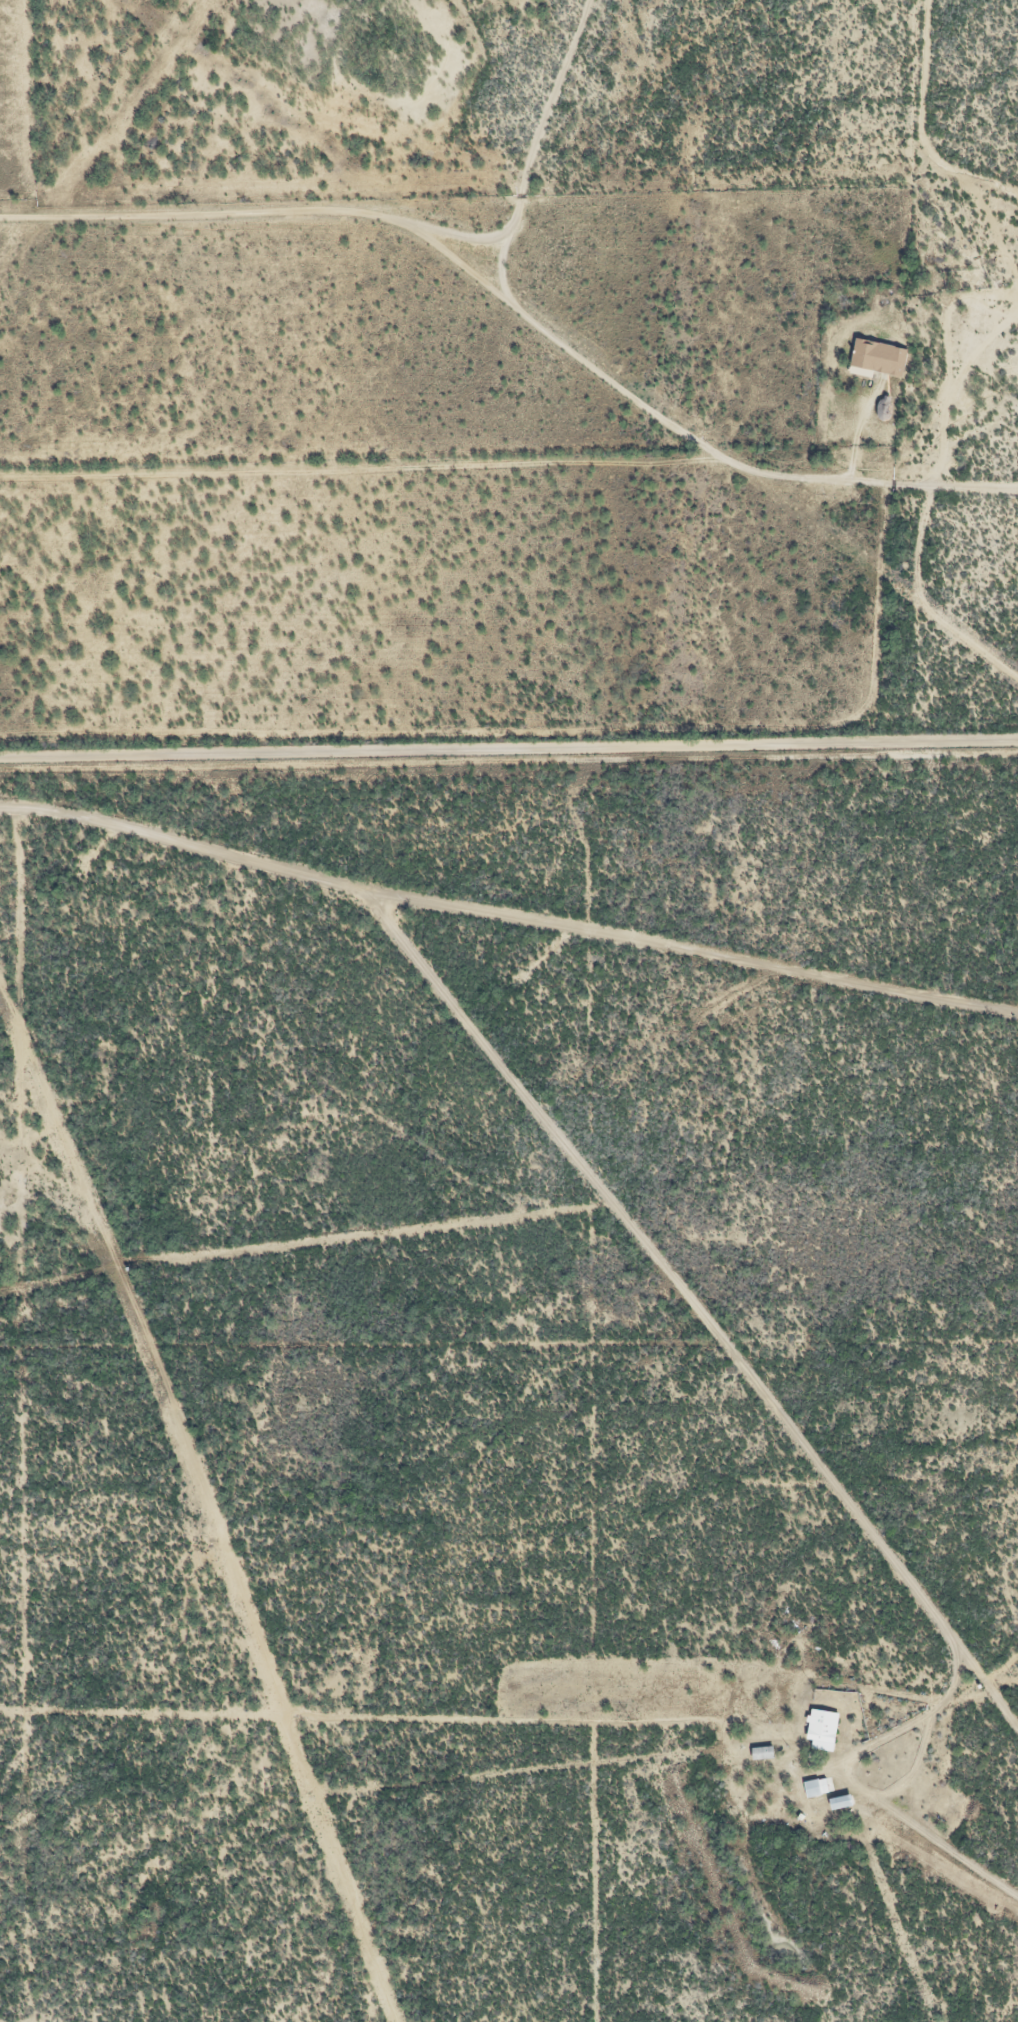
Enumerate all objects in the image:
road: (560, 342)
building: (879, 354)
road: (539, 1236)
road: (927, 1480)
building: (823, 1721)
building: (817, 1784)

